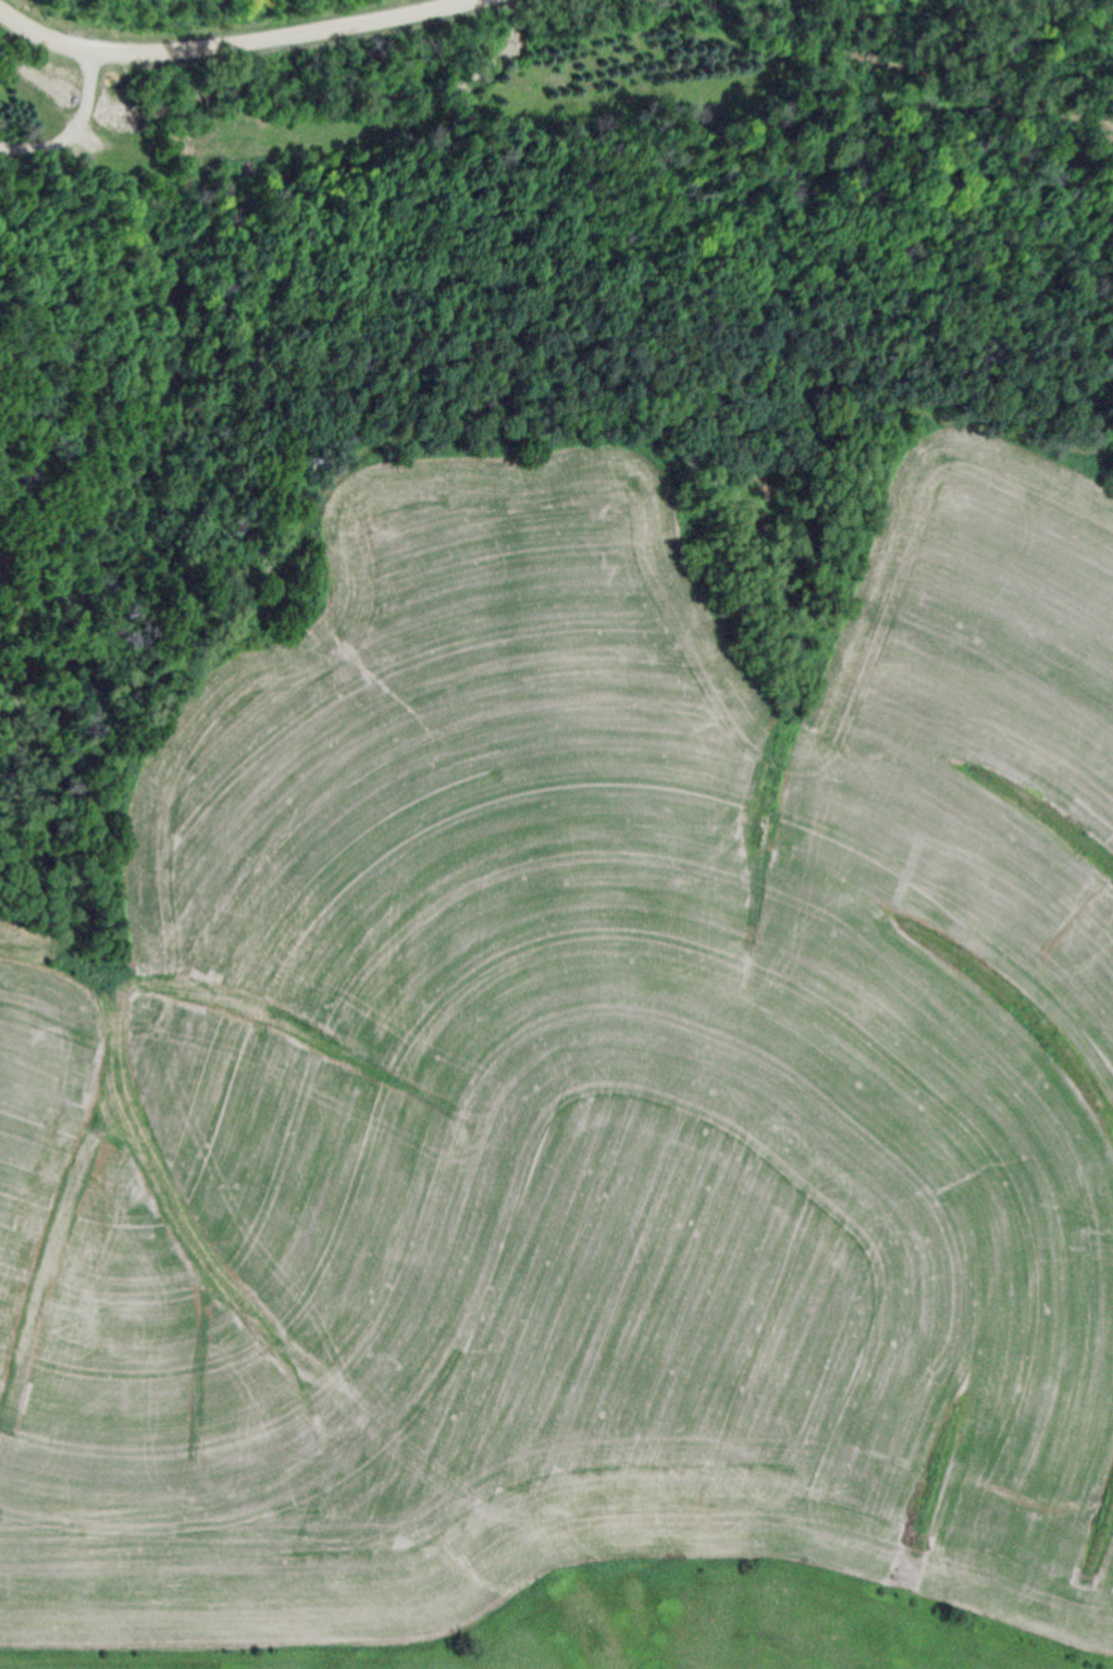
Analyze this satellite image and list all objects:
road: (235, 45)
road: (76, 132)

